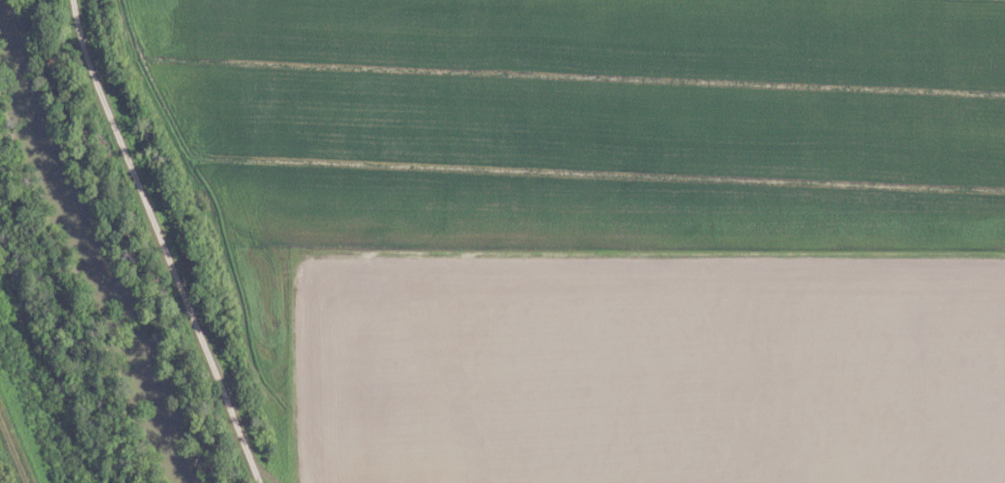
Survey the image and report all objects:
road: (167, 242)
river: (91, 244)
road: (541, 256)
road: (14, 447)

